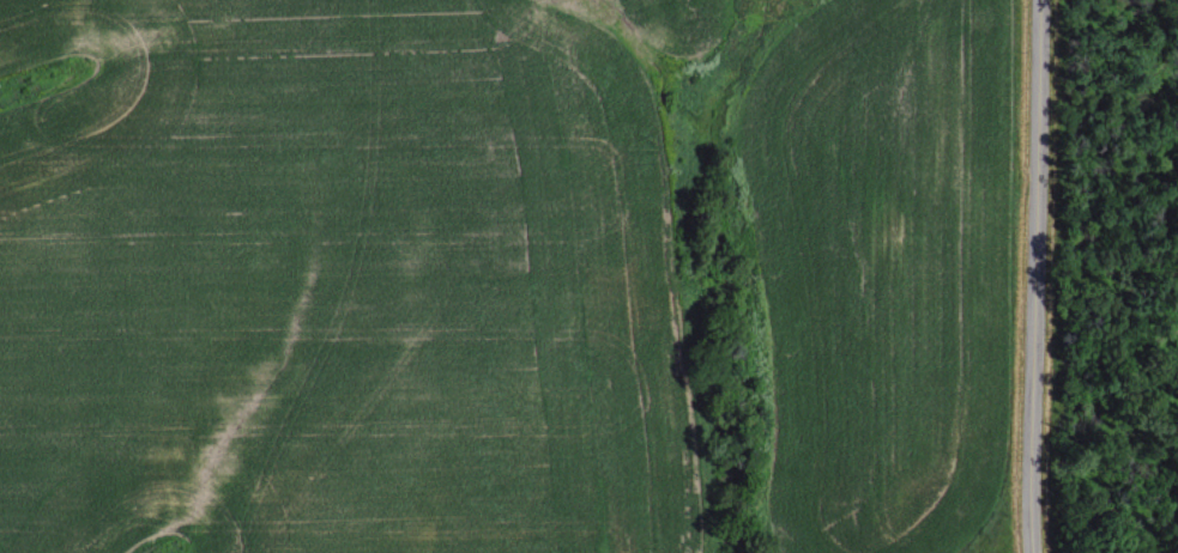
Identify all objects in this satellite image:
road: (1032, 276)

